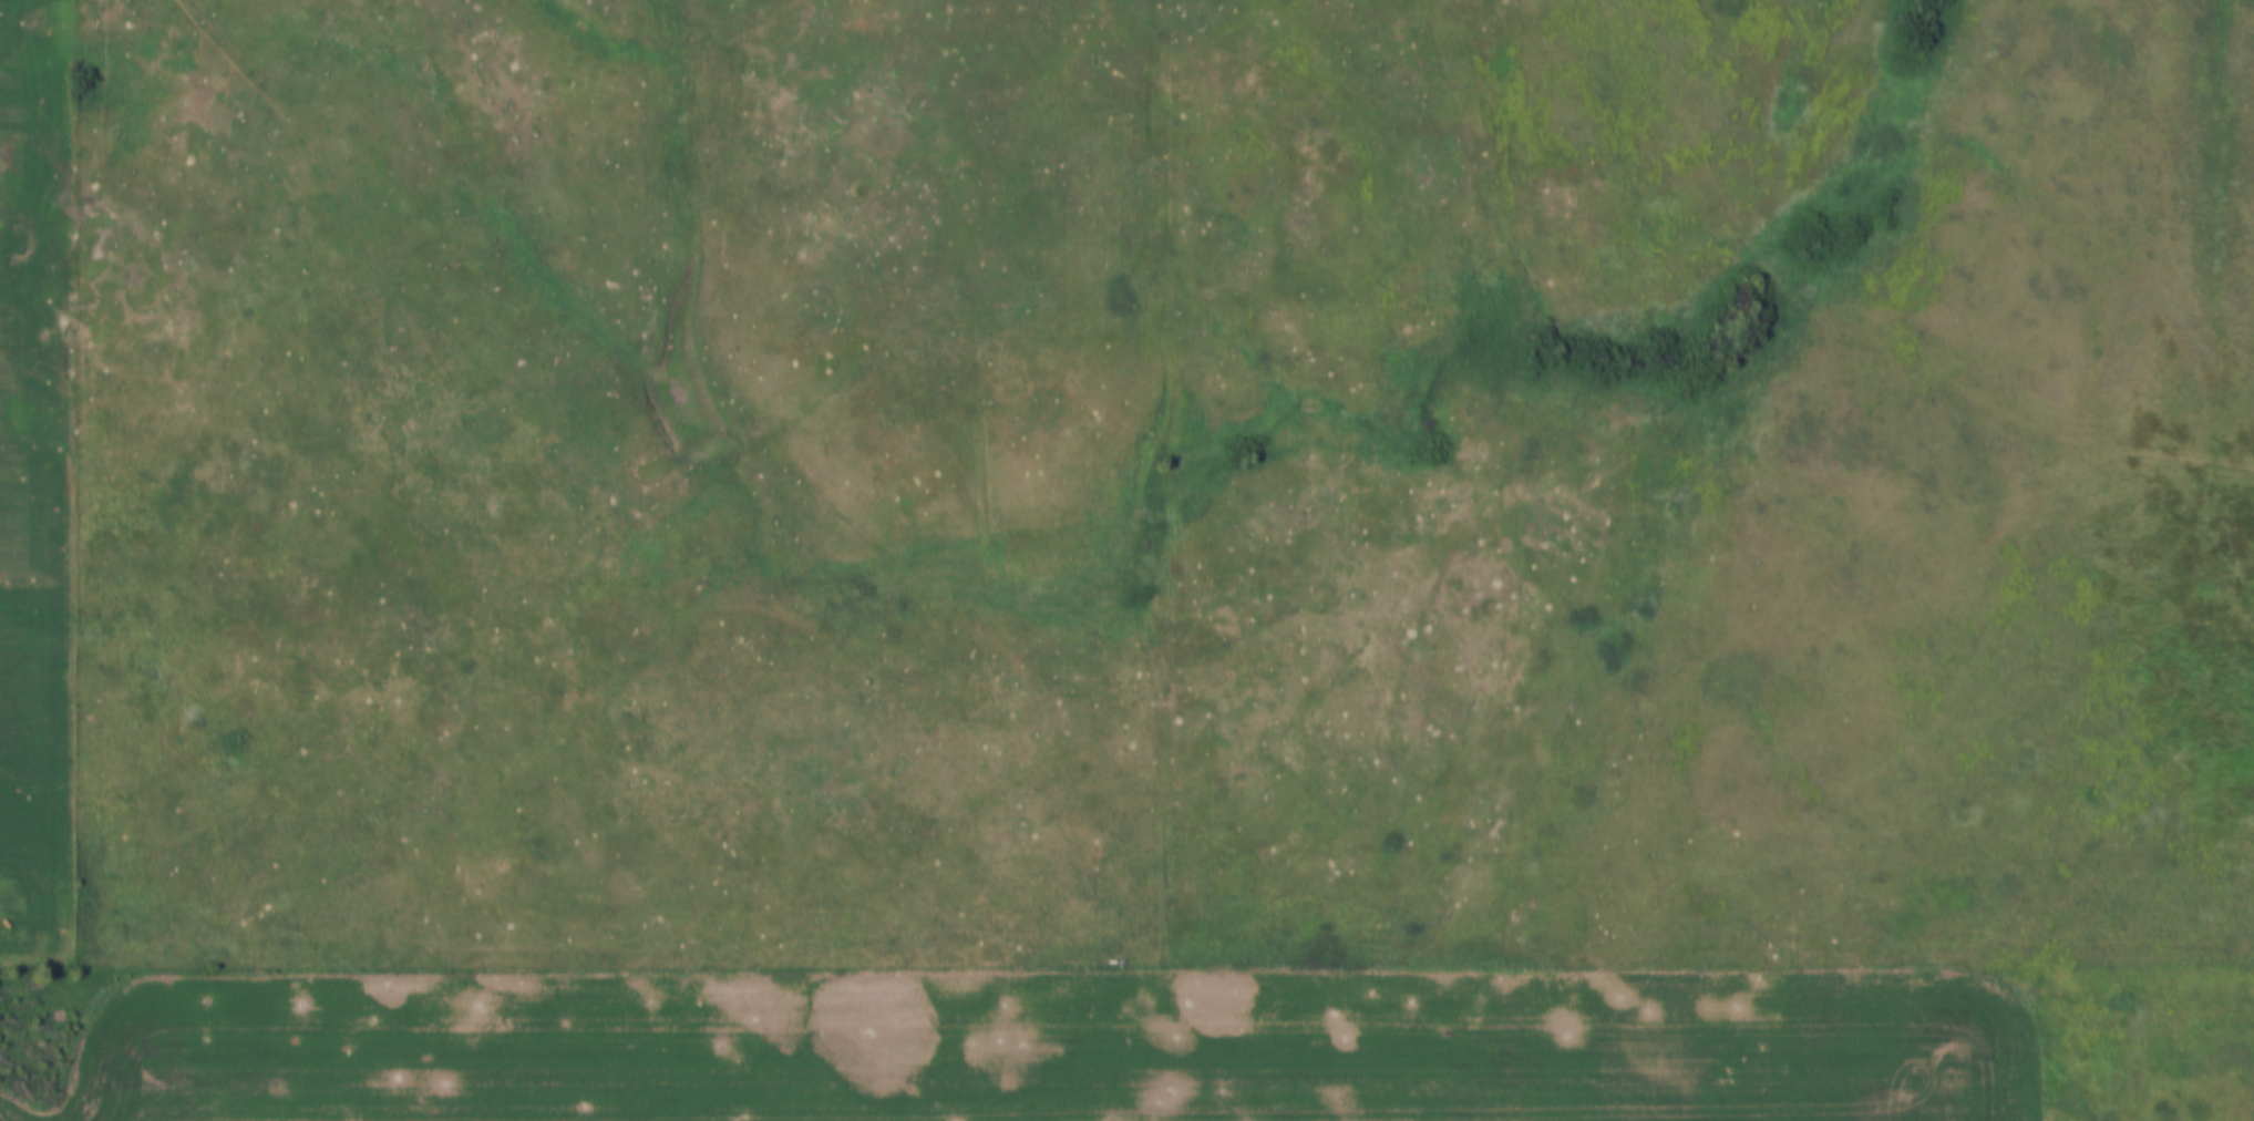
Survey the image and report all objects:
crop: (1053, 1047)

